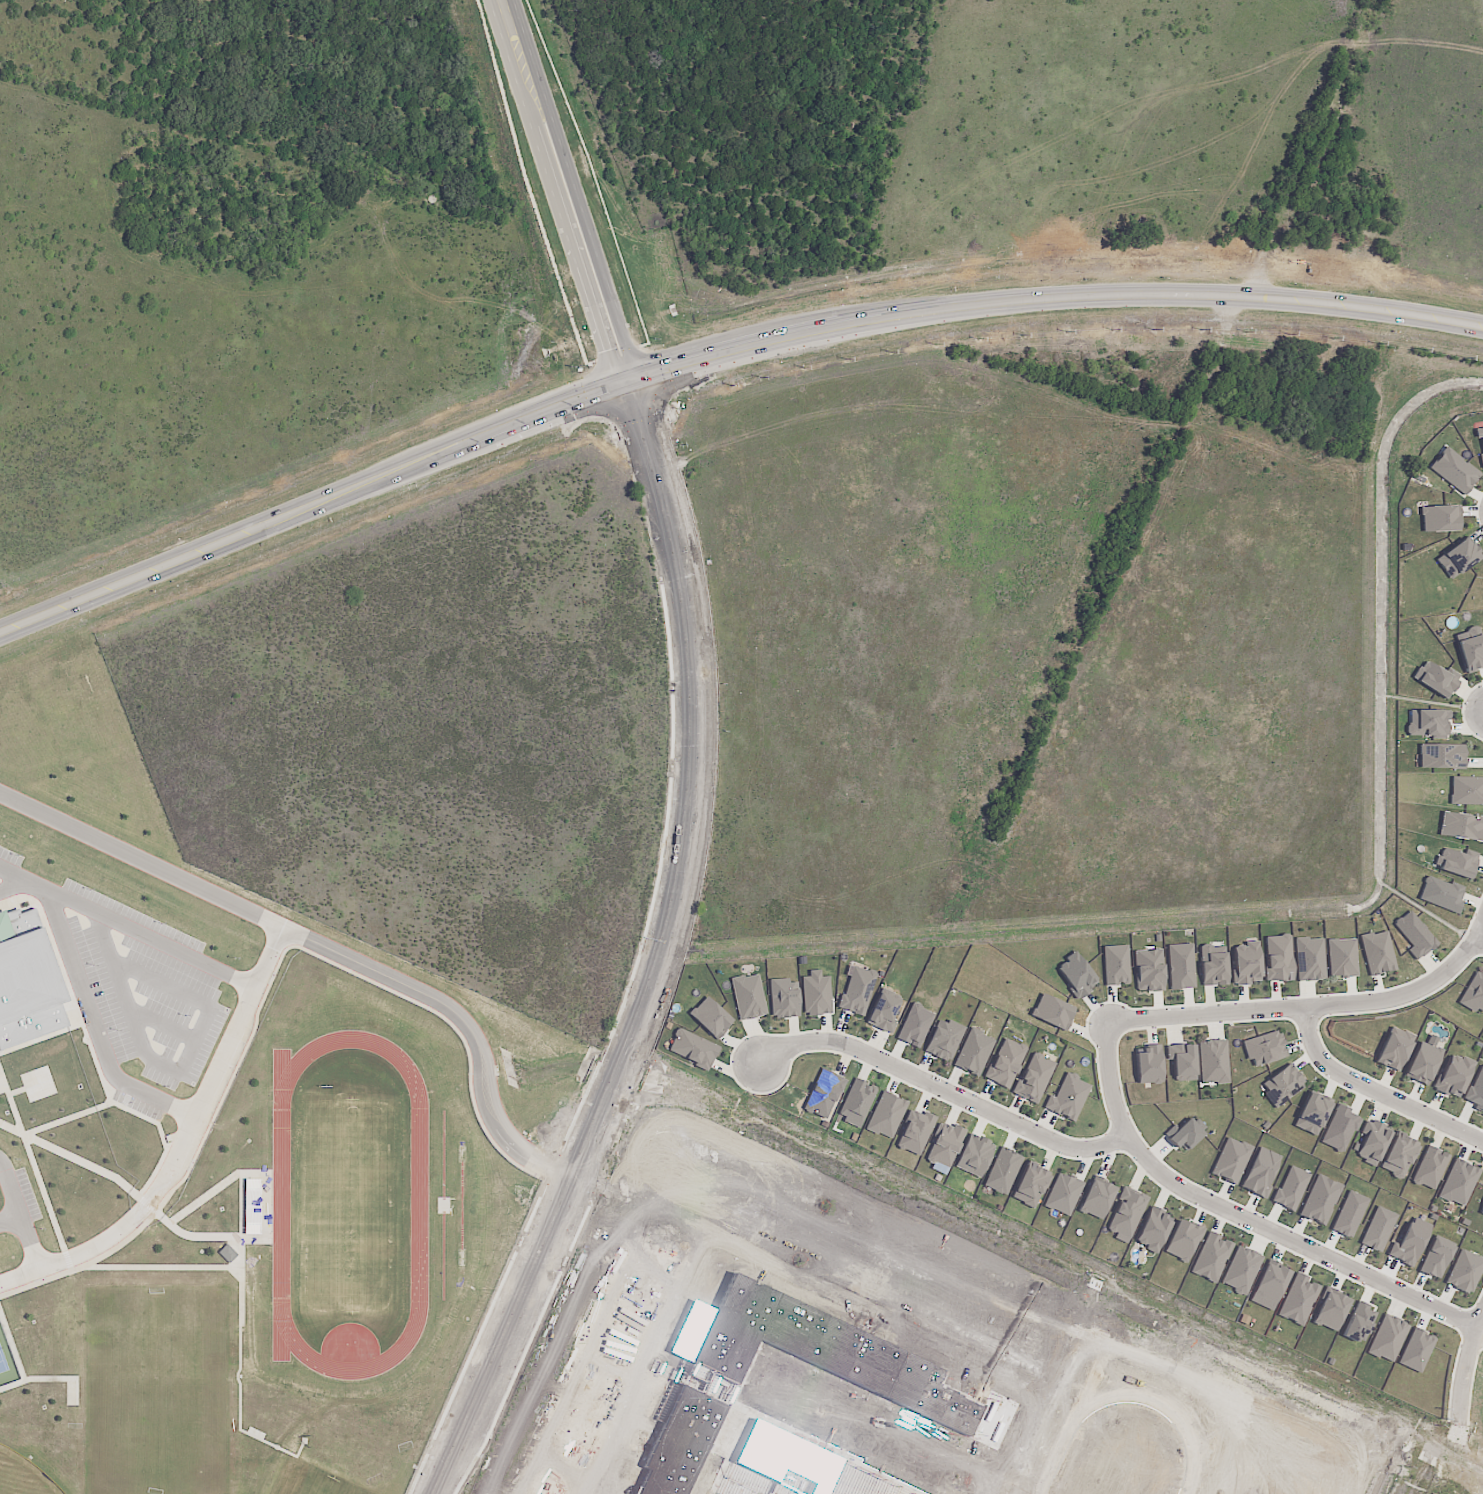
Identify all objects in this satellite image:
road: (1314, 147)
road: (586, 189)
road: (562, 191)
road: (1083, 296)
traffic signals: (630, 381)
road: (657, 398)
building: (1479, 434)
building: (1481, 459)
building: (1454, 470)
road: (343, 494)
building: (1438, 518)
building: (1457, 558)
crop: (1039, 634)
building: (1470, 648)
crop: (449, 676)
building: (1436, 679)
building: (1427, 722)
building: (1441, 756)
building: (1466, 791)
building: (1461, 826)
building: (1456, 862)
road: (14, 880)
road: (14, 891)
building: (1442, 894)
building: (3, 918)
building: (1414, 935)
road: (1479, 939)
building: (1377, 952)
road: (325, 953)
road: (172, 955)
road: (664, 955)
building: (1342, 957)
building: (1278, 958)
building: (1309, 959)
building: (1246, 963)
building: (1116, 965)
building: (1213, 965)
building: (1181, 966)
building: (1148, 970)
building: (1076, 974)
building: (857, 990)
building: (816, 994)
building: (1474, 994)
building: (748, 996)
building: (34, 998)
building: (783, 998)
road: (1313, 1004)
building: (883, 1011)
building: (1052, 1012)
building: (710, 1017)
building: (914, 1025)
building: (944, 1040)
building: (1265, 1048)
building: (692, 1049)
building: (973, 1052)
building: (1213, 1061)
building: (1182, 1062)
building: (1005, 1063)
building: (1422, 1063)
building: (1148, 1064)
road: (179, 1069)
building: (1454, 1075)
building: (1033, 1078)
road: (942, 1085)
building: (1282, 1085)
building: (0, 1087)
road: (1375, 1089)
building: (1476, 1090)
road: (131, 1092)
building: (823, 1094)
building: (1067, 1097)
building: (857, 1101)
building: (1312, 1114)
building: (886, 1115)
building: (1340, 1129)
building: (914, 1132)
building: (1187, 1133)
building: (1372, 1142)
building: (945, 1145)
building: (1399, 1155)
building: (974, 1156)
building: (1231, 1160)
building: (1430, 1167)
building: (1002, 1171)
building: (1260, 1172)
building: (1458, 1183)
building: (1031, 1185)
building: (1291, 1188)
building: (1063, 1194)
building: (1096, 1198)
building: (1320, 1200)
building: (1481, 1210)
building: (1126, 1214)
building: (1349, 1214)
road: (1241, 1215)
building: (1378, 1229)
building: (1153, 1230)
road: (124, 1235)
building: (1182, 1241)
building: (1409, 1242)
road: (26, 1243)
building: (227, 1253)
building: (1436, 1257)
building: (1211, 1258)
building: (1241, 1270)
building: (1465, 1271)
building: (1271, 1283)
building: (1298, 1299)
building: (1331, 1310)
road: (1480, 1329)
building: (1387, 1338)
building: (1416, 1350)
road: (1464, 1367)
park: (22, 1475)

